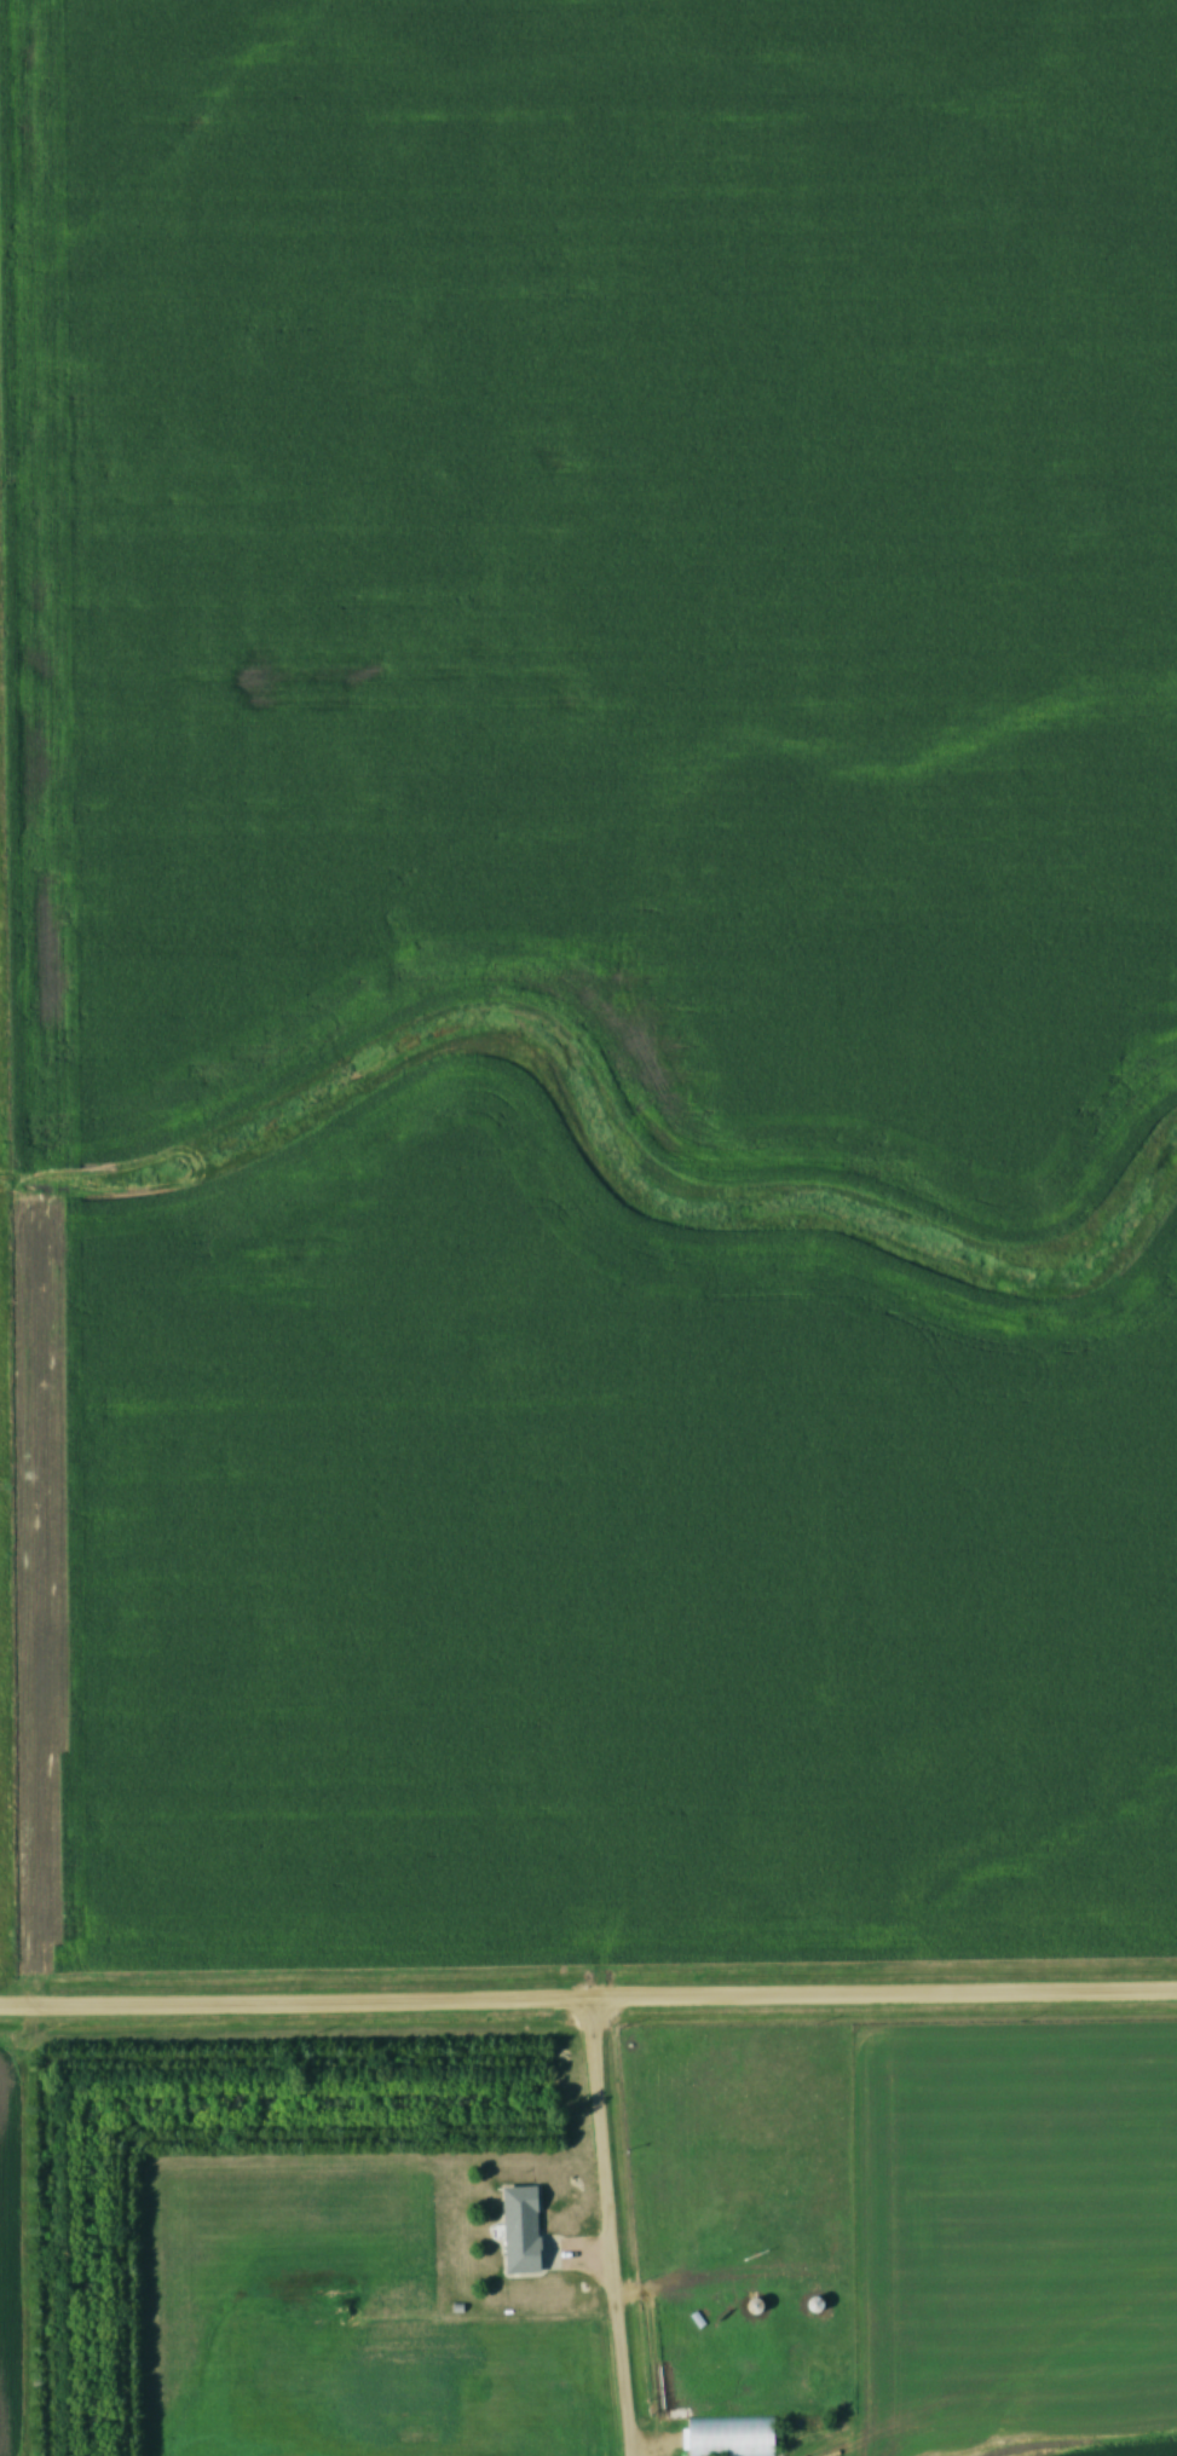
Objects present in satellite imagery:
road: (588, 1999)
road: (601, 2128)
building: (520, 2231)
building: (754, 2306)
road: (621, 2357)
building: (731, 2437)

